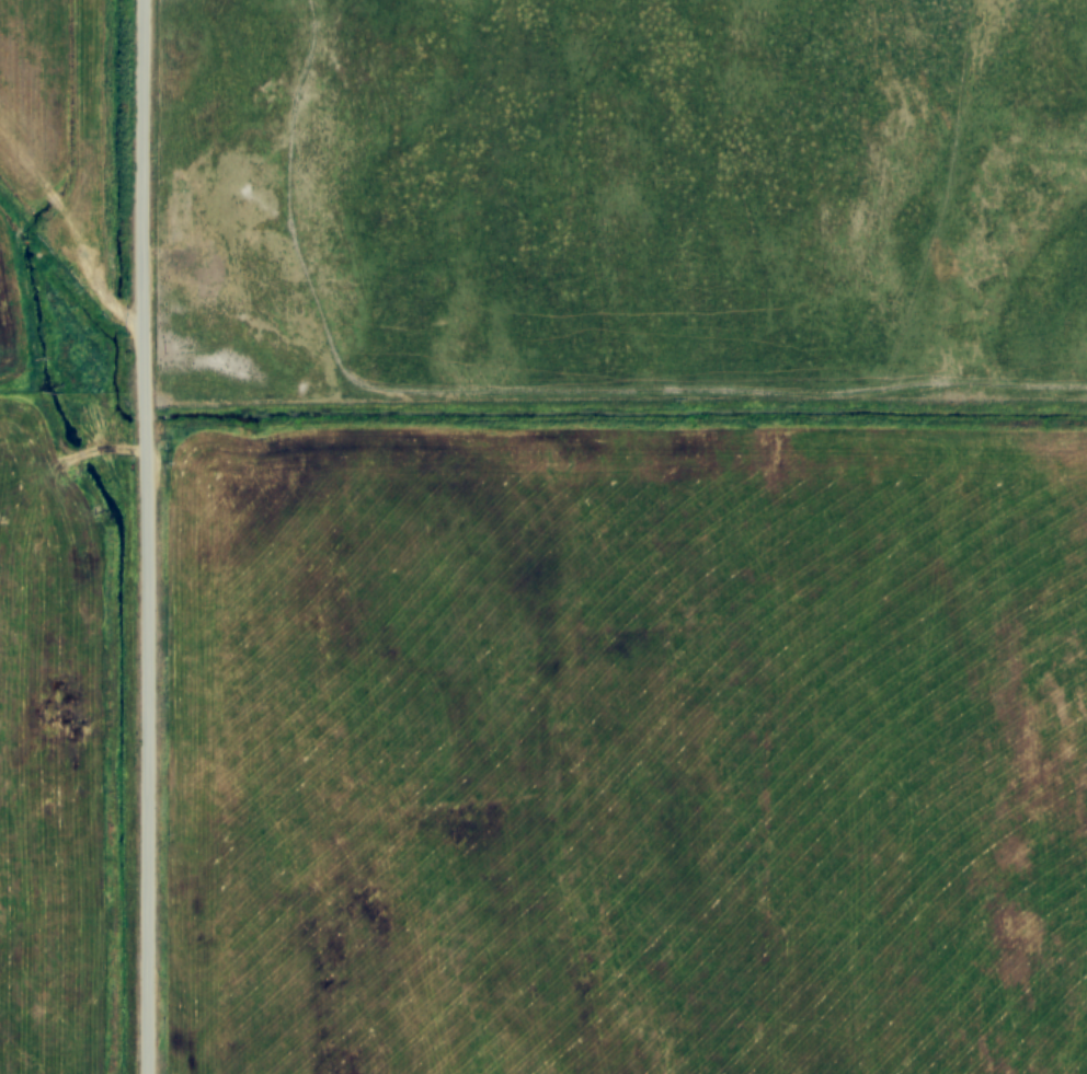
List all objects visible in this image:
road: (165, 536)

